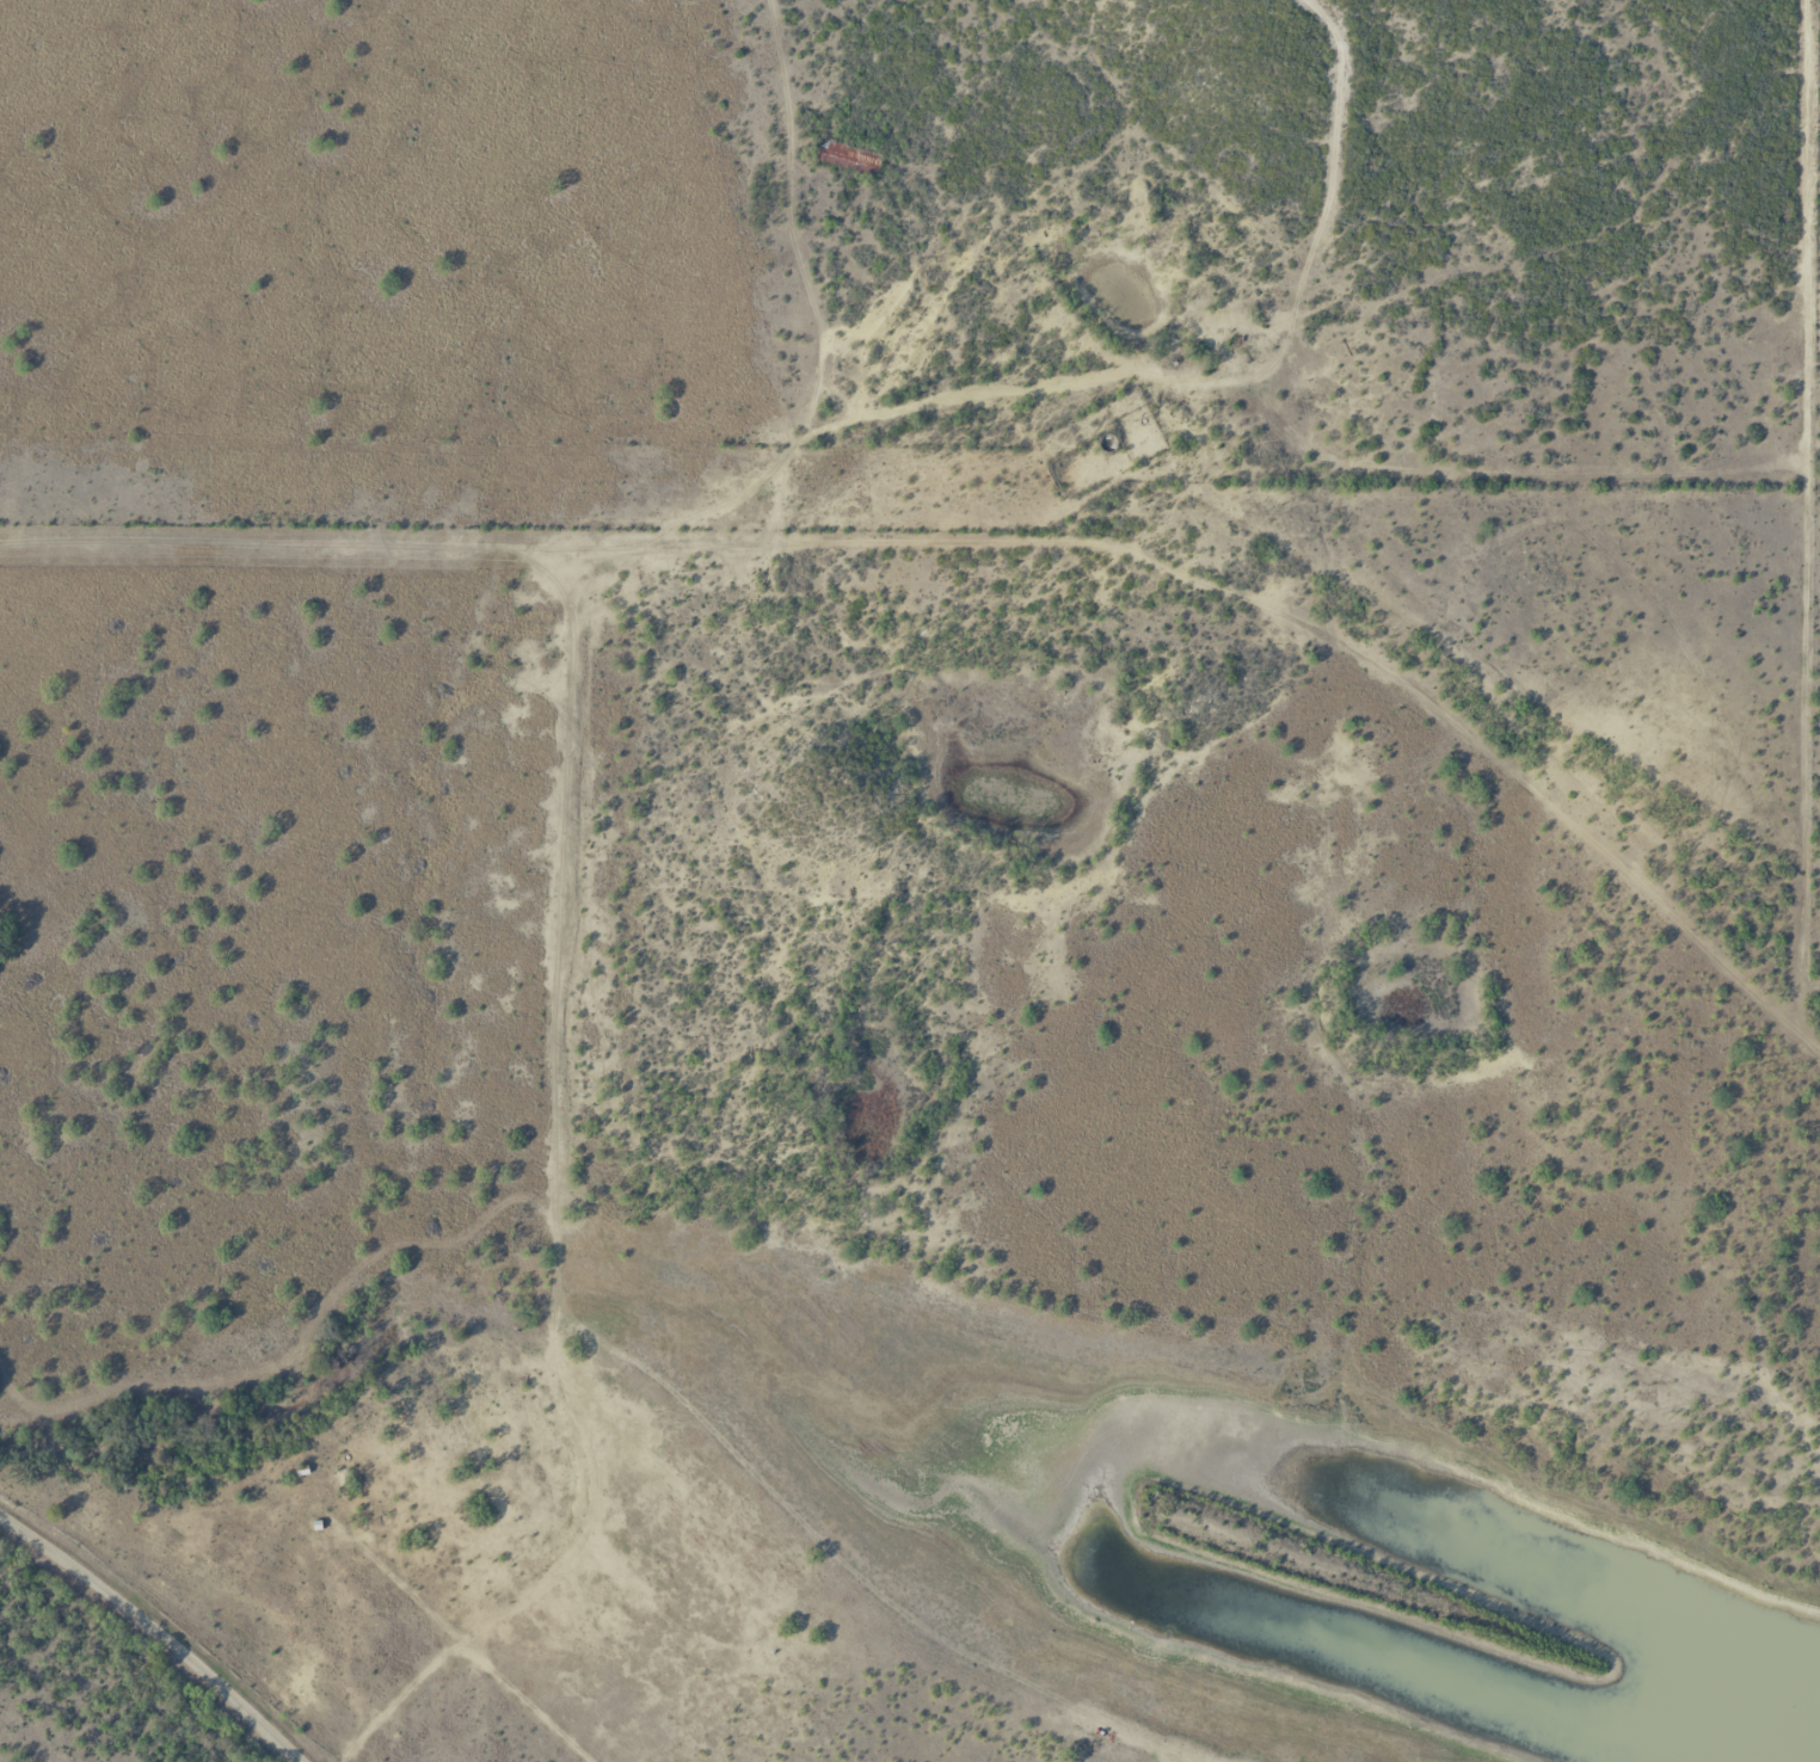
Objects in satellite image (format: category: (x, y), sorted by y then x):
road: (155, 1632)

